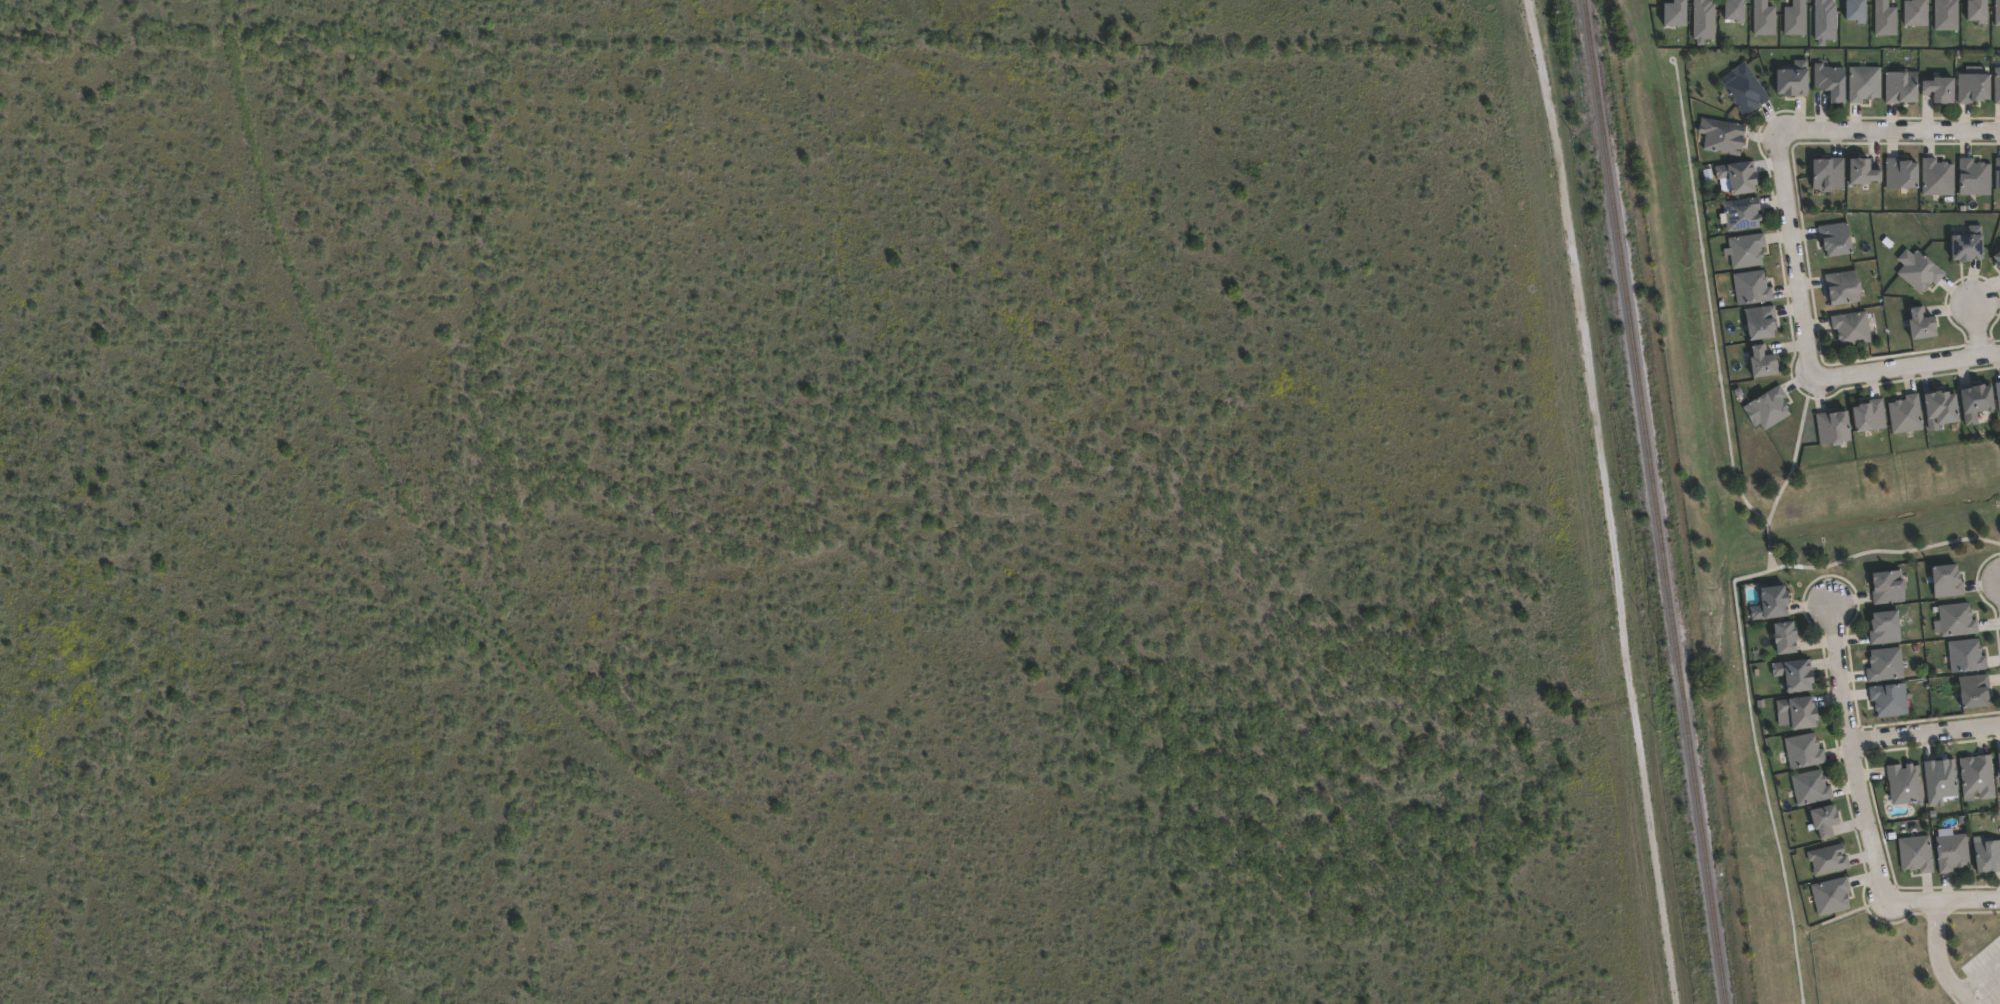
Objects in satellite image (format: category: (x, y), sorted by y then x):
building: (1735, 10)
building: (1856, 10)
building: (1977, 10)
building: (1916, 12)
building: (1997, 12)
building: (1675, 13)
building: (1946, 15)
building: (1763, 18)
building: (1795, 18)
building: (1884, 18)
building: (1703, 20)
building: (1824, 21)
building: (1790, 80)
building: (1828, 82)
building: (1863, 84)
building: (1996, 86)
building: (1899, 88)
building: (1972, 88)
building: (1743, 90)
building: (1936, 90)
road: (1888, 132)
building: (1721, 136)
building: (1859, 173)
building: (1826, 174)
building: (1899, 174)
building: (1997, 175)
building: (1936, 177)
building: (1735, 178)
building: (1972, 178)
building: (1740, 215)
building: (1833, 239)
building: (1965, 244)
building: (1745, 250)
road: (1794, 257)
building: (1996, 261)
building: (1919, 272)
building: (1840, 288)
building: (1750, 289)
building: (1758, 323)
building: (1919, 326)
road: (1981, 327)
building: (1851, 329)
building: (1758, 362)
road: (1905, 367)
building: (1997, 394)
building: (1974, 400)
building: (1937, 407)
building: (1767, 408)
building: (1904, 413)
building: (1867, 414)
building: (1831, 427)
road: (1601, 501)
railway: (1660, 502)
park: (1848, 510)
building: (1945, 580)
building: (1887, 586)
building: (1769, 602)
building: (1955, 619)
building: (1883, 627)
building: (1782, 637)
building: (1965, 655)
road: (1741, 657)
building: (1884, 664)
road: (1837, 667)
building: (1791, 674)
building: (1972, 690)
building: (1888, 699)
building: (1795, 712)
road: (1924, 730)
building: (1802, 751)
building: (1998, 763)
building: (1977, 776)
building: (1939, 780)
building: (1904, 784)
building: (1809, 788)
building: (1822, 821)
road: (1866, 821)
building: (1950, 850)
building: (1915, 853)
building: (1986, 856)
building: (1828, 860)
building: (1830, 896)
road: (1942, 899)
road: (1939, 956)
road: (1978, 972)

